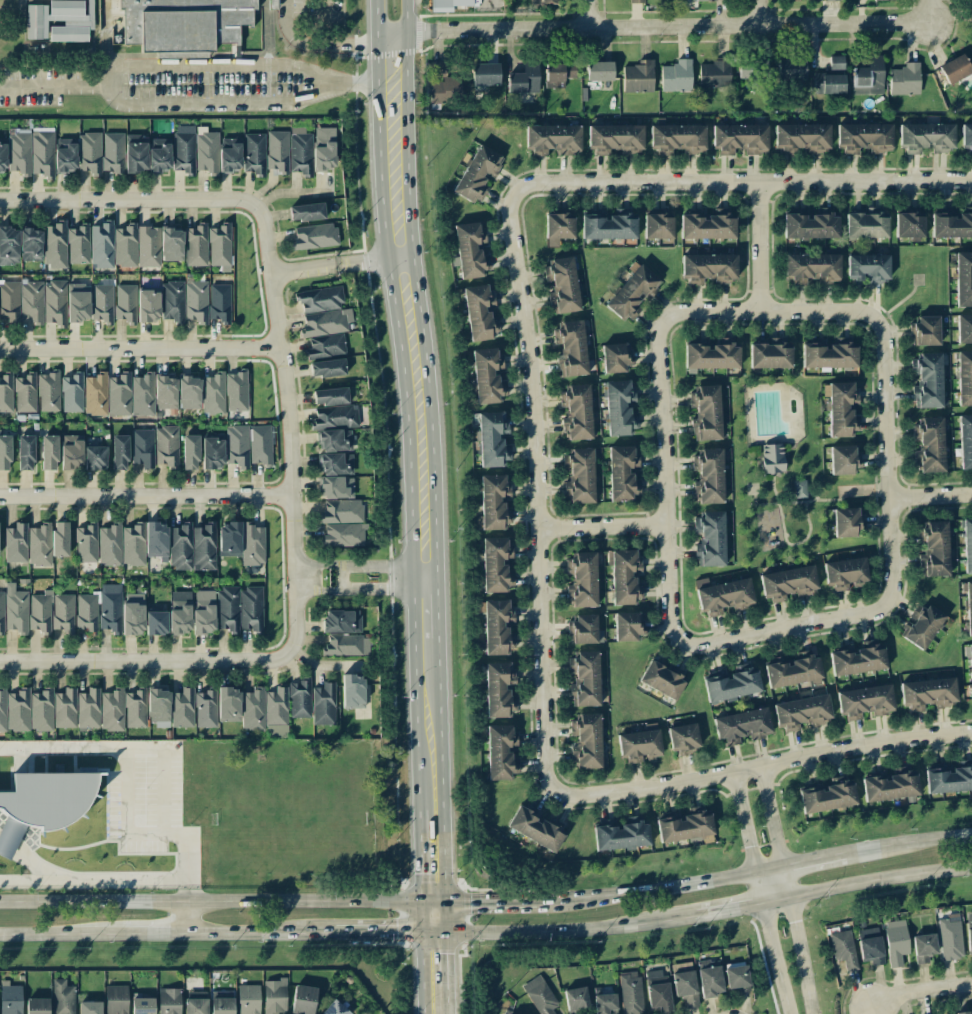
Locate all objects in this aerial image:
building: (542, 0)
building: (705, 0)
building: (832, 0)
building: (874, 0)
building: (636, 1)
building: (273, 4)
building: (447, 5)
road: (926, 6)
road: (759, 12)
road: (589, 13)
building: (971, 17)
building: (60, 20)
road: (325, 20)
building: (179, 22)
road: (649, 25)
road: (108, 32)
road: (315, 39)
road: (375, 41)
road: (405, 41)
building: (836, 62)
road: (139, 64)
building: (791, 68)
building: (955, 69)
building: (599, 71)
building: (753, 71)
building: (558, 73)
building: (714, 73)
building: (485, 74)
building: (677, 76)
building: (638, 77)
building: (868, 77)
building: (524, 79)
building: (904, 79)
road: (357, 83)
building: (828, 83)
road: (55, 86)
building: (864, 137)
building: (926, 137)
building: (802, 138)
building: (553, 139)
building: (615, 139)
building: (677, 139)
building: (740, 139)
building: (967, 139)
building: (184, 148)
building: (324, 148)
building: (19, 151)
building: (277, 151)
building: (300, 151)
building: (89, 152)
building: (112, 152)
building: (206, 152)
building: (42, 153)
building: (136, 153)
building: (254, 153)
building: (65, 155)
building: (159, 155)
building: (229, 155)
building: (2, 157)
building: (477, 173)
road: (740, 183)
road: (126, 201)
building: (306, 212)
building: (950, 223)
building: (866, 224)
building: (607, 225)
building: (809, 225)
building: (909, 225)
building: (658, 226)
building: (706, 226)
building: (558, 228)
building: (314, 236)
building: (31, 244)
building: (55, 244)
building: (79, 244)
building: (102, 244)
building: (171, 244)
building: (219, 244)
building: (9, 245)
building: (136, 245)
building: (196, 245)
road: (757, 247)
building: (470, 250)
road: (397, 257)
road: (327, 266)
building: (709, 268)
building: (811, 268)
building: (868, 268)
building: (963, 279)
building: (562, 285)
building: (632, 291)
building: (320, 299)
building: (9, 301)
building: (31, 301)
building: (172, 301)
building: (196, 301)
building: (54, 302)
building: (78, 302)
building: (102, 302)
building: (219, 302)
building: (124, 303)
building: (148, 305)
road: (765, 311)
building: (479, 312)
building: (325, 322)
building: (964, 328)
road: (420, 331)
building: (925, 331)
building: (326, 346)
road: (140, 349)
building: (571, 349)
building: (827, 354)
building: (710, 355)
building: (770, 355)
building: (615, 357)
building: (327, 368)
building: (487, 376)
building: (964, 377)
building: (927, 380)
building: (236, 390)
building: (49, 391)
building: (165, 391)
building: (6, 392)
building: (25, 392)
building: (189, 392)
building: (72, 393)
building: (213, 393)
building: (96, 394)
building: (119, 394)
building: (142, 394)
building: (330, 396)
building: (620, 408)
building: (842, 409)
building: (577, 411)
building: (705, 413)
building: (335, 417)
road: (289, 427)
building: (492, 439)
building: (335, 440)
building: (965, 440)
building: (929, 444)
building: (166, 445)
building: (237, 445)
building: (260, 445)
road: (401, 446)
building: (143, 448)
building: (71, 451)
building: (5, 452)
building: (25, 452)
building: (49, 452)
building: (119, 452)
building: (190, 452)
building: (212, 452)
building: (95, 458)
building: (772, 458)
building: (844, 459)
road: (883, 460)
building: (336, 463)
building: (623, 473)
building: (579, 475)
building: (709, 475)
road: (661, 480)
building: (337, 487)
building: (800, 488)
road: (928, 496)
road: (534, 497)
road: (146, 498)
building: (494, 502)
building: (342, 511)
building: (846, 521)
road: (599, 527)
building: (343, 534)
building: (60, 538)
building: (229, 539)
building: (710, 539)
building: (156, 540)
building: (16, 543)
building: (86, 543)
building: (967, 543)
building: (39, 544)
building: (252, 544)
building: (110, 545)
building: (132, 545)
building: (180, 546)
building: (204, 546)
building: (934, 548)
building: (496, 564)
building: (845, 572)
building: (625, 577)
road: (434, 578)
building: (582, 579)
building: (787, 583)
building: (724, 596)
building: (968, 606)
building: (109, 608)
building: (16, 609)
building: (228, 609)
building: (251, 609)
building: (1, 611)
building: (40, 611)
building: (203, 611)
building: (86, 612)
building: (63, 613)
building: (133, 613)
building: (180, 613)
building: (341, 621)
building: (156, 623)
building: (627, 626)
building: (923, 626)
building: (497, 627)
road: (779, 628)
building: (582, 629)
road: (436, 635)
building: (348, 644)
building: (857, 659)
road: (147, 663)
road: (320, 663)
building: (970, 667)
building: (793, 671)
building: (584, 679)
building: (663, 679)
building: (731, 684)
building: (499, 689)
building: (352, 691)
building: (928, 694)
building: (300, 698)
building: (865, 701)
building: (228, 704)
building: (323, 704)
building: (158, 707)
building: (182, 707)
building: (65, 708)
building: (89, 708)
building: (135, 708)
building: (205, 708)
building: (253, 709)
building: (3, 710)
building: (18, 710)
building: (41, 710)
building: (111, 710)
building: (801, 712)
building: (276, 713)
building: (741, 726)
building: (684, 738)
building: (587, 739)
building: (639, 746)
building: (501, 751)
road: (766, 765)
building: (947, 778)
building: (889, 785)
building: (826, 796)
road: (440, 797)
building: (42, 804)
road: (770, 817)
road: (743, 821)
road: (413, 823)
building: (683, 825)
building: (536, 826)
road: (157, 835)
building: (620, 835)
road: (910, 843)
road: (814, 859)
road: (413, 870)
road: (865, 881)
road: (186, 888)
road: (649, 891)
road: (221, 902)
traffic signals: (443, 903)
traffic signals: (414, 904)
road: (480, 904)
road: (730, 909)
road: (188, 917)
road: (414, 918)
road: (443, 918)
road: (571, 929)
building: (969, 931)
road: (384, 932)
traffic signals: (414, 932)
road: (429, 932)
road: (177, 933)
traffic signals: (444, 933)
building: (950, 937)
road: (796, 940)
building: (895, 941)
road: (769, 942)
building: (870, 946)
building: (923, 947)
building: (843, 948)
road: (445, 963)
building: (707, 963)
building: (681, 967)
road: (415, 973)
building: (737, 976)
building: (710, 981)
building: (685, 987)
building: (657, 990)
road: (919, 990)
building: (630, 993)
building: (540, 995)
building: (274, 996)
building: (62, 997)
building: (10, 998)
building: (116, 999)
building: (248, 999)
building: (303, 999)
building: (575, 999)
building: (169, 1001)
building: (195, 1002)
building: (604, 1003)
road: (446, 1004)
building: (142, 1005)
building: (222, 1005)
building: (37, 1006)
building: (90, 1007)
building: (334, 1008)
building: (962, 1012)

